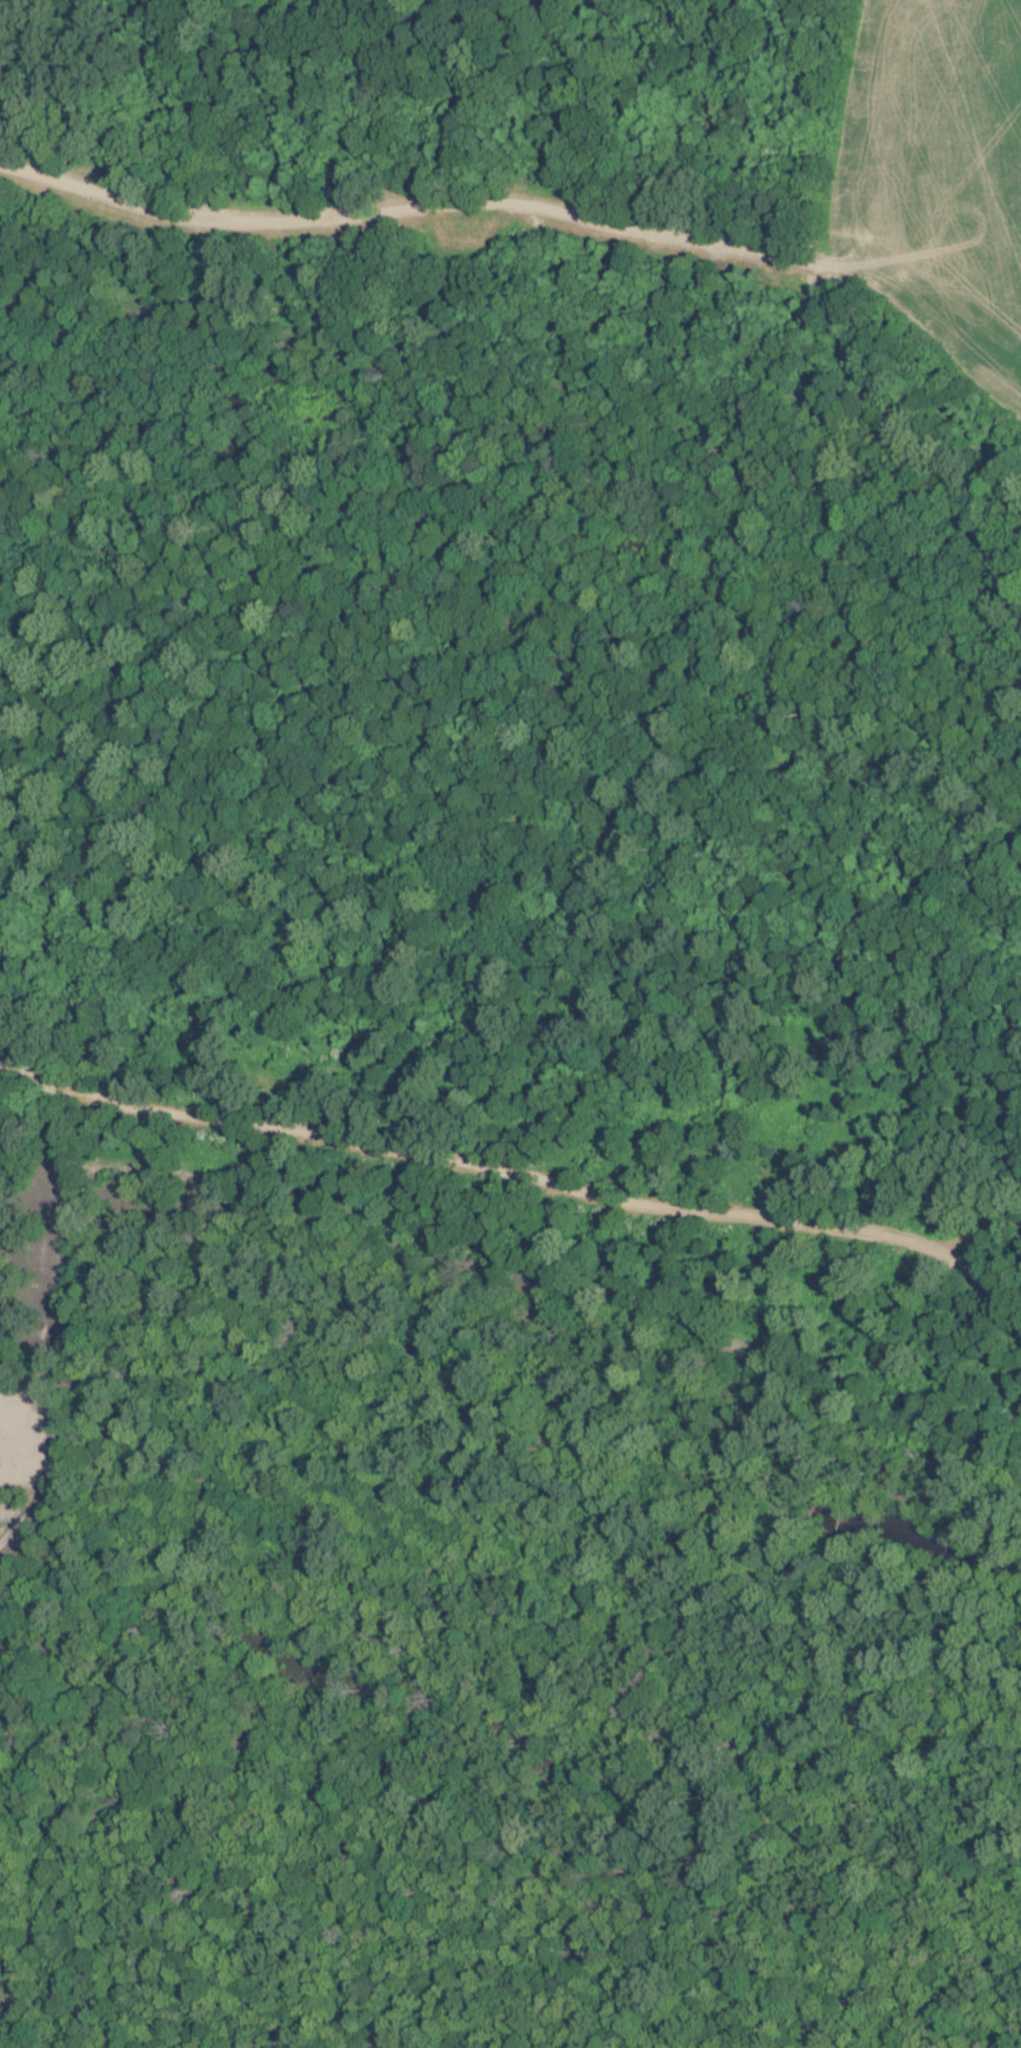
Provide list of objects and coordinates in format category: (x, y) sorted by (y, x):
road: (852, 119)
road: (289, 220)
road: (823, 241)

